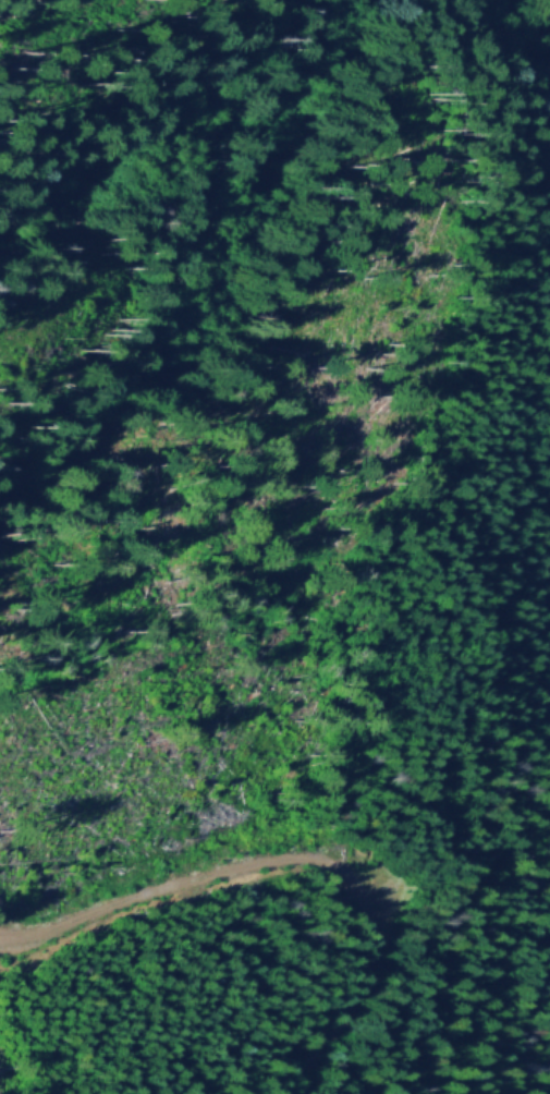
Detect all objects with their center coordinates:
road: (294, 863)

